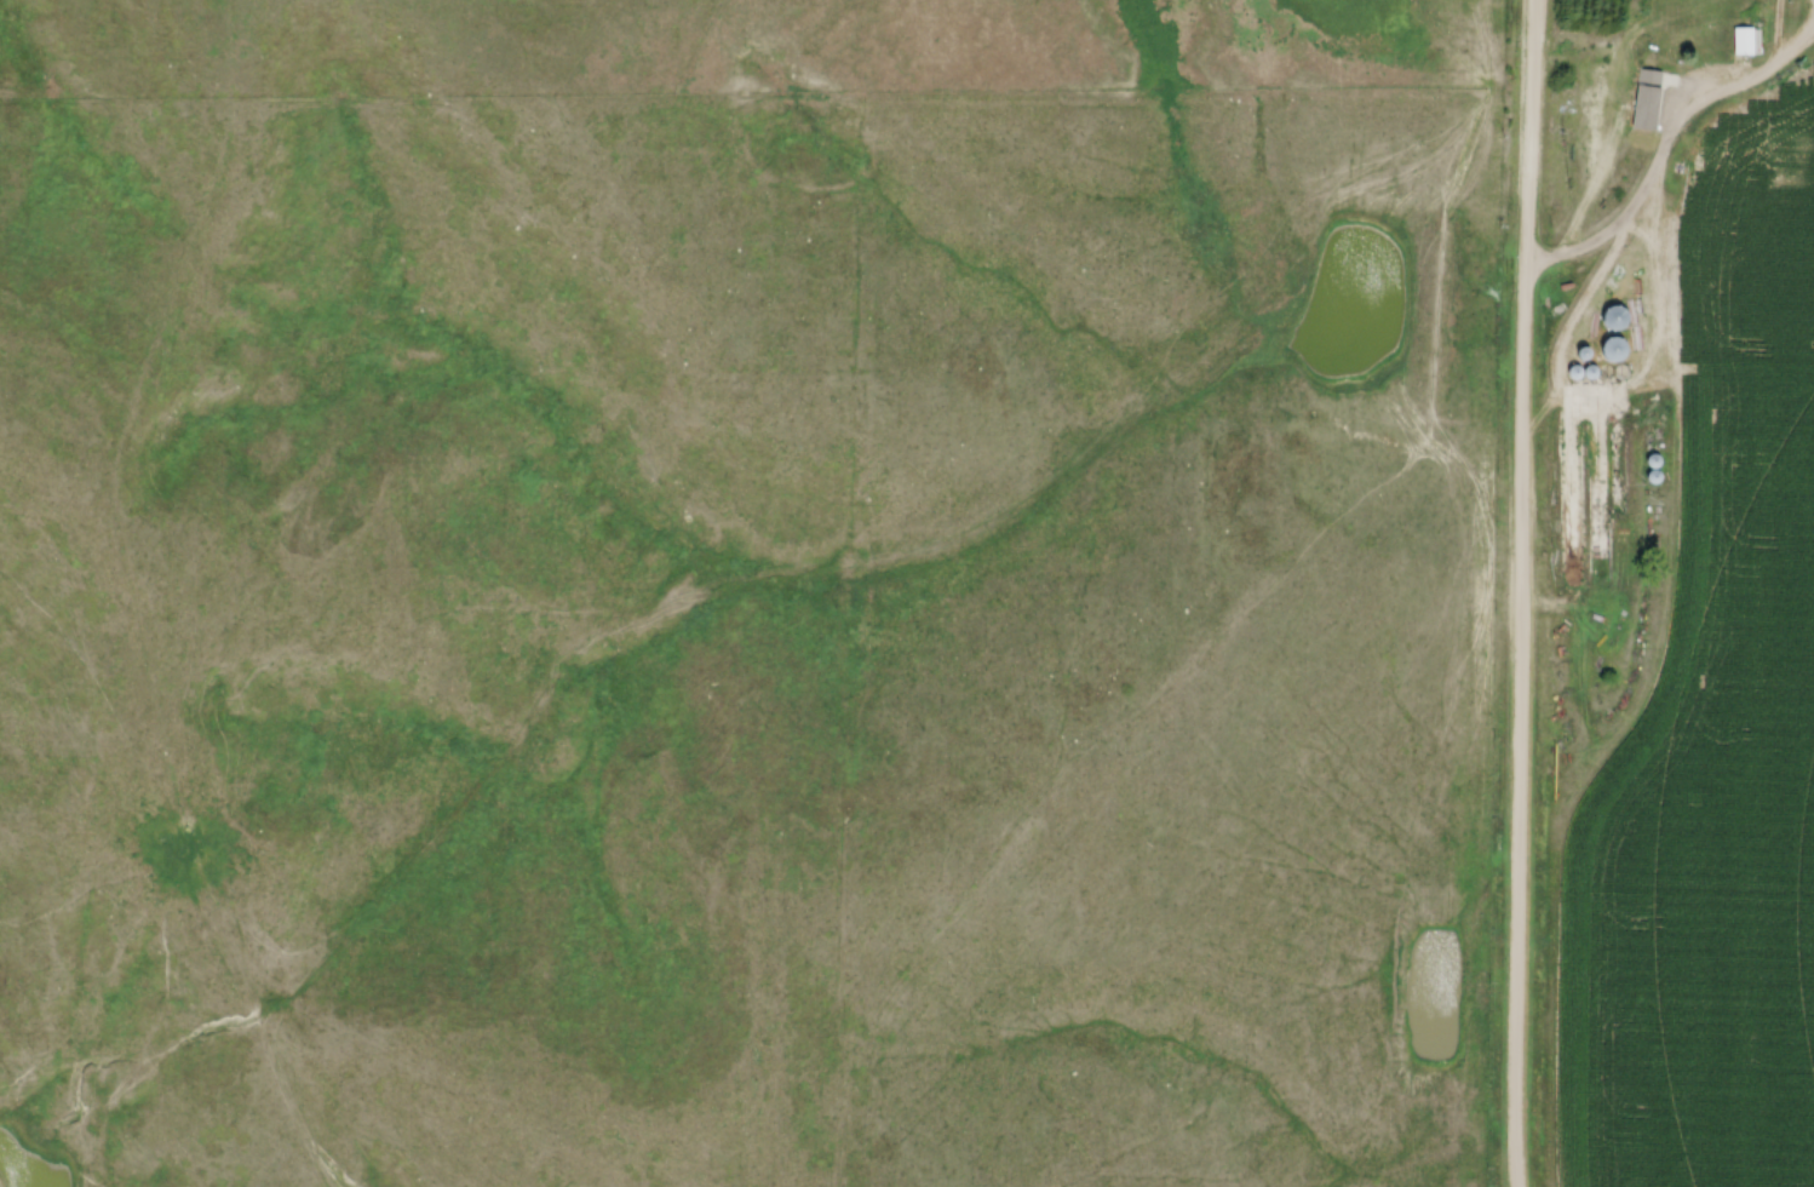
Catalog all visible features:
building: (1682, 27)
building: (1747, 41)
road: (1637, 196)
building: (1619, 317)
road: (1520, 592)

